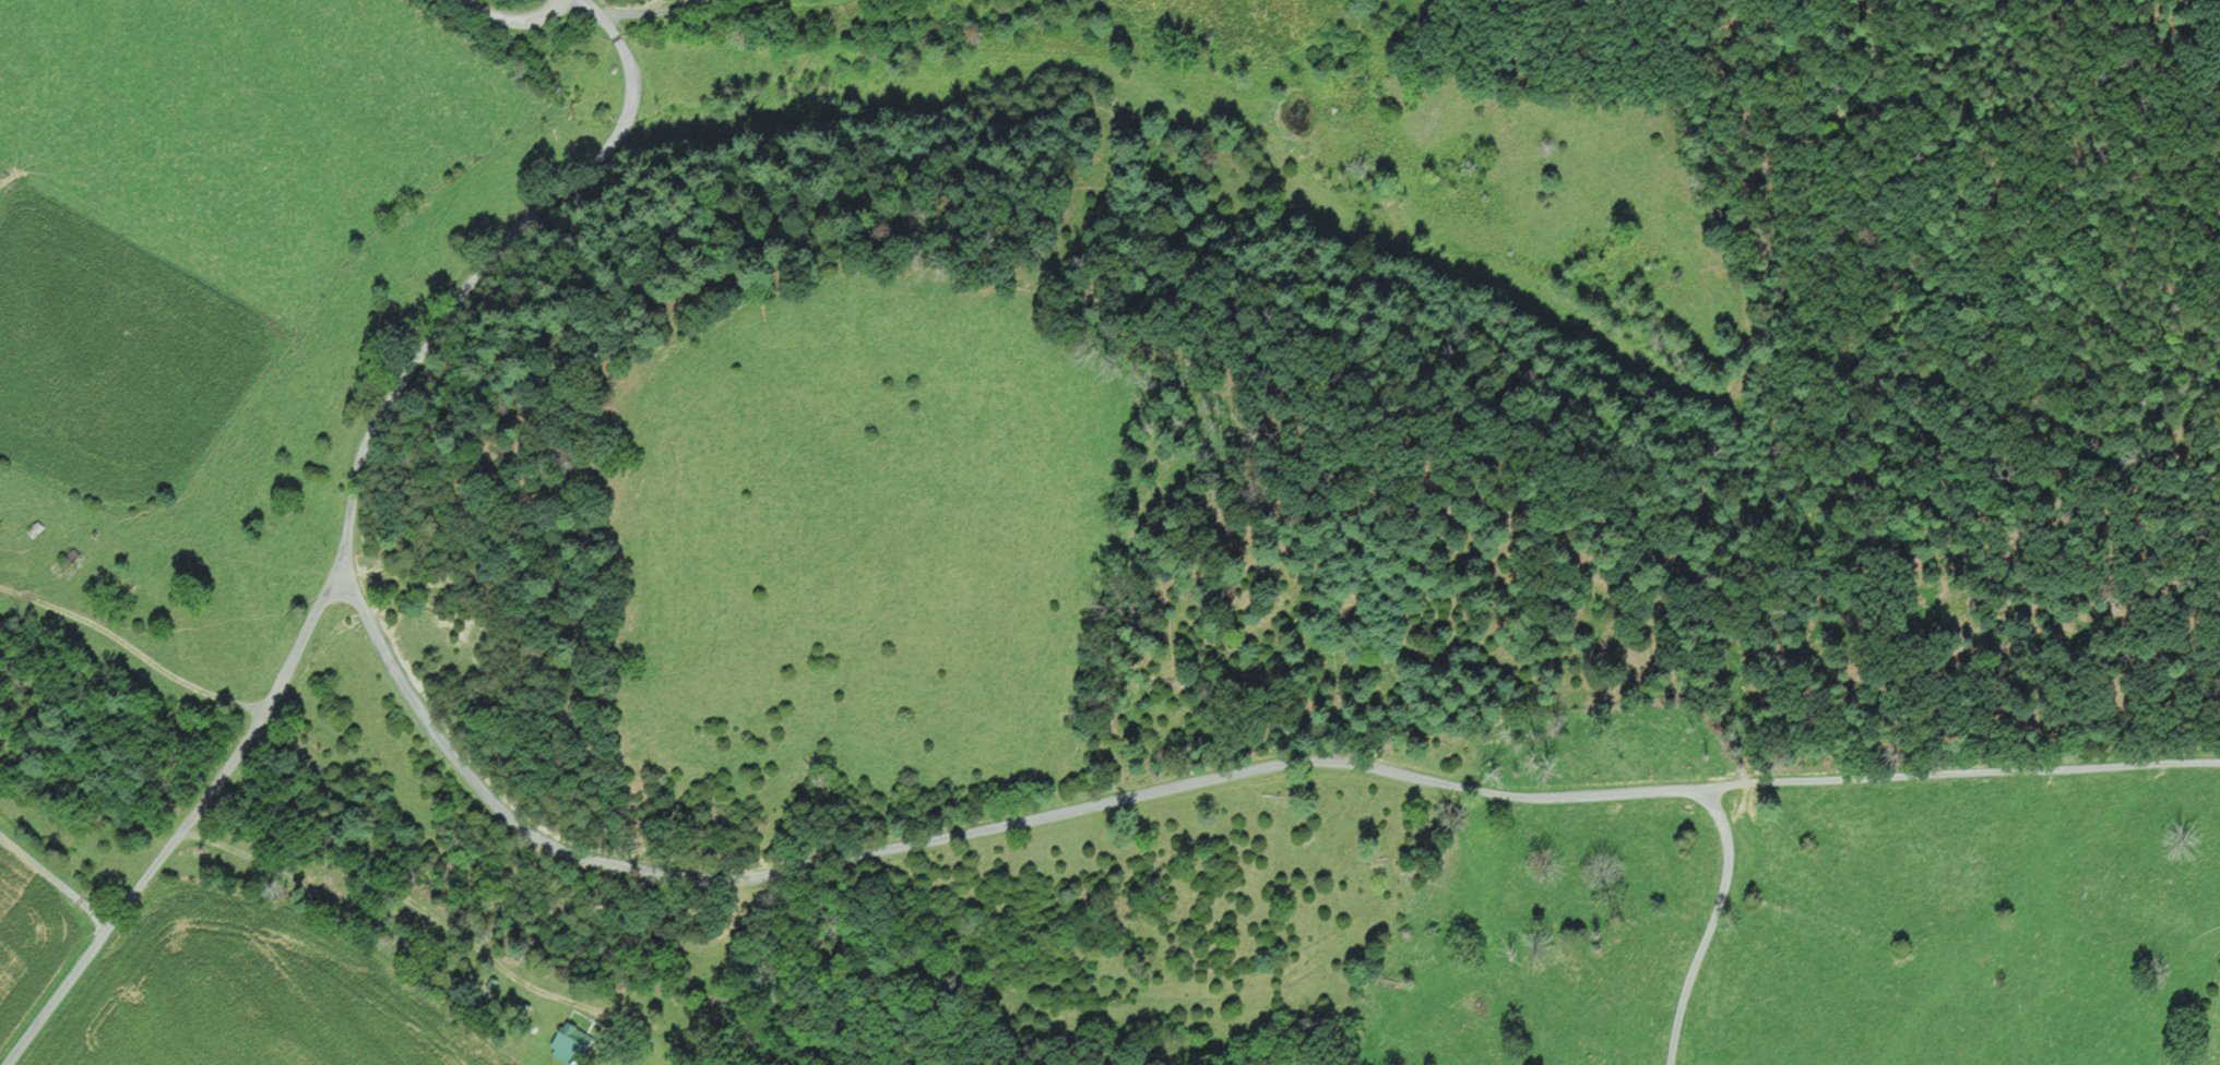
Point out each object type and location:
road: (652, 15)
road: (512, 19)
road: (346, 527)
road: (131, 648)
road: (1202, 779)
road: (54, 878)
road: (392, 908)
road: (1708, 925)
building: (573, 1037)

